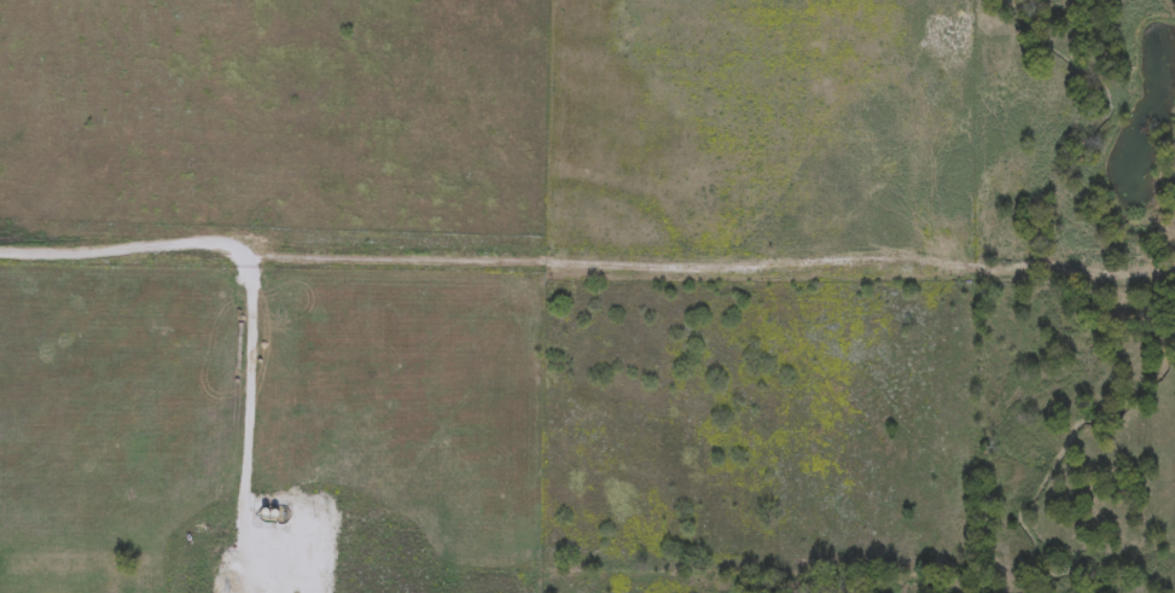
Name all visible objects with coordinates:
road: (242, 260)

